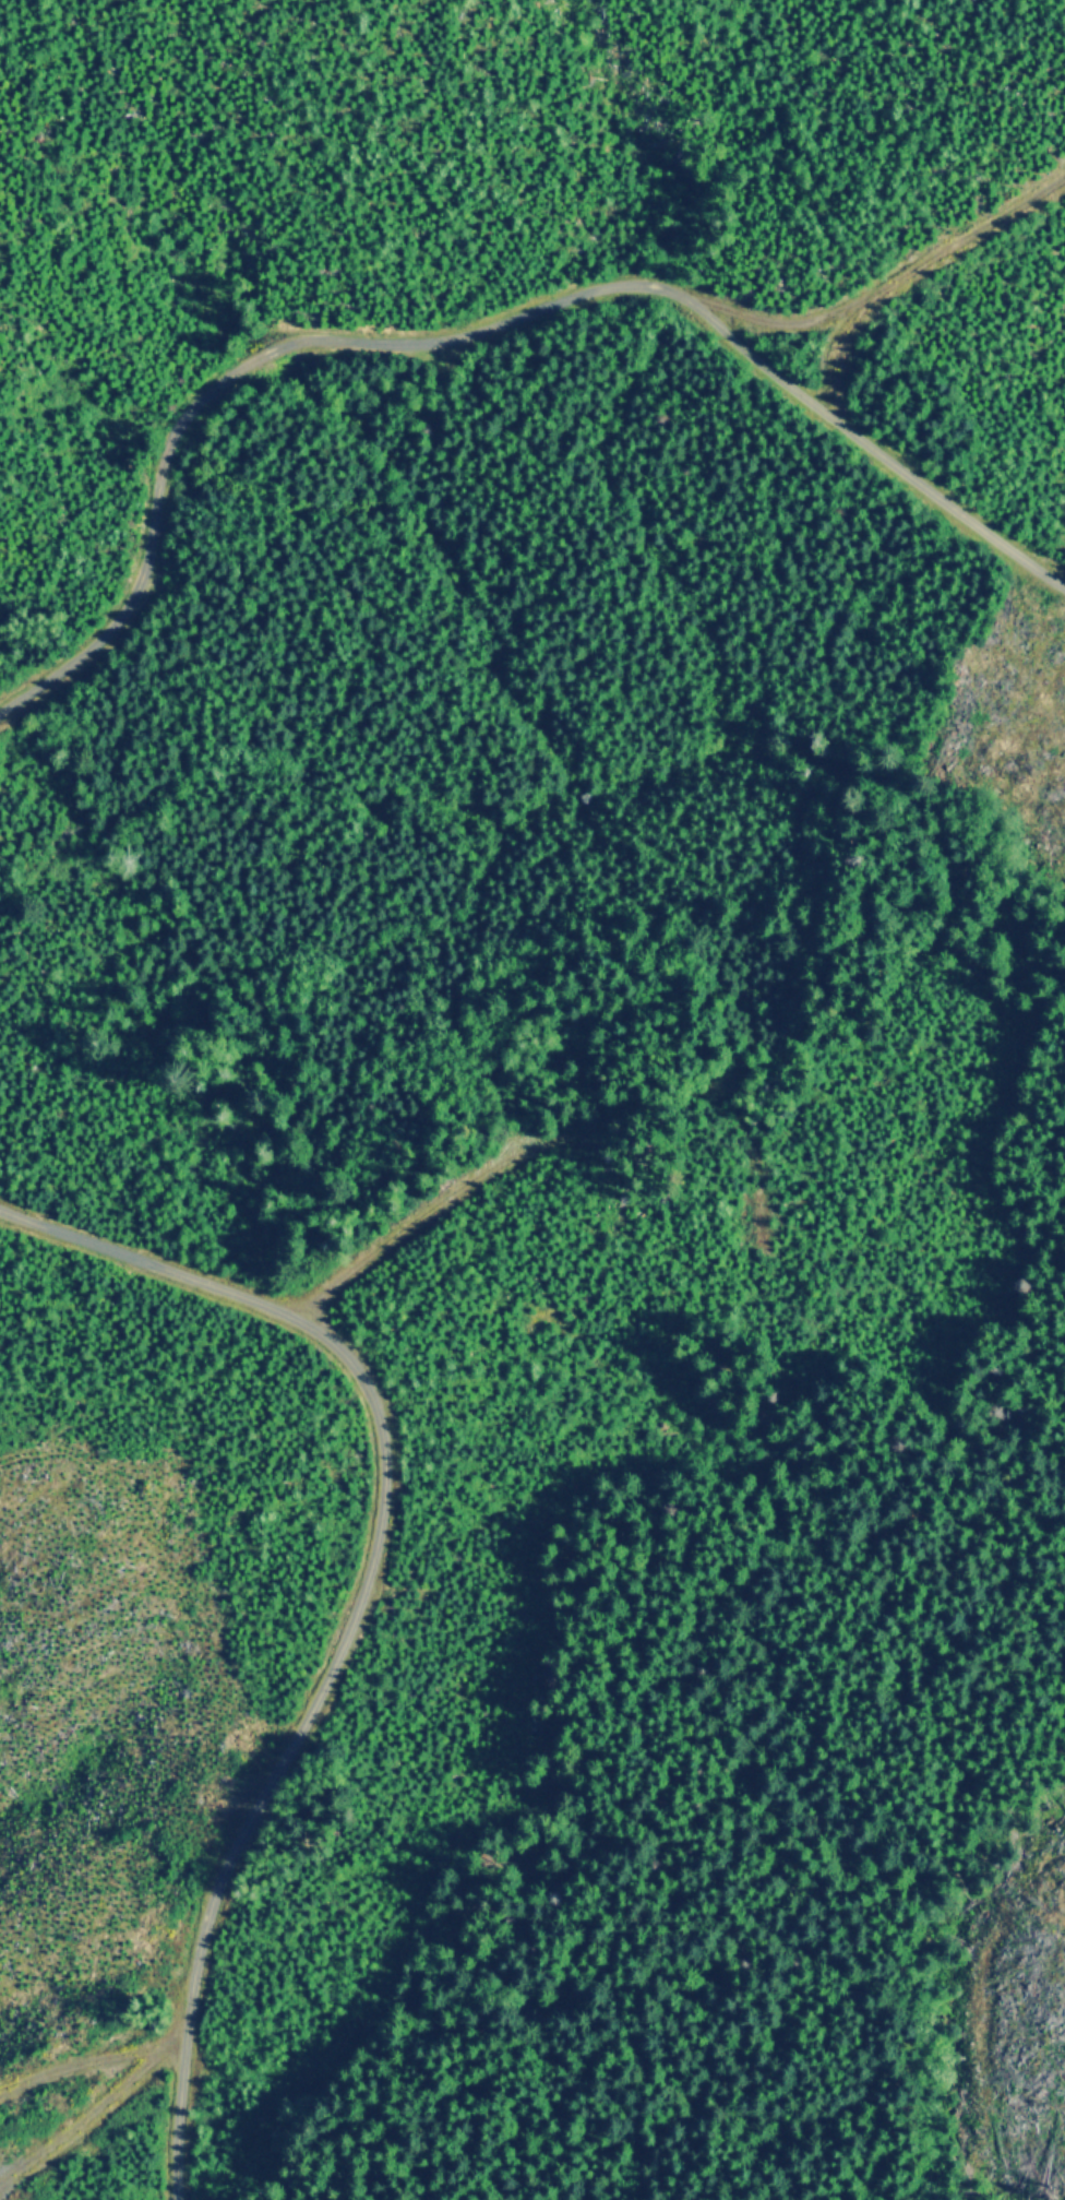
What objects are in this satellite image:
road: (483, 329)
road: (352, 1603)

